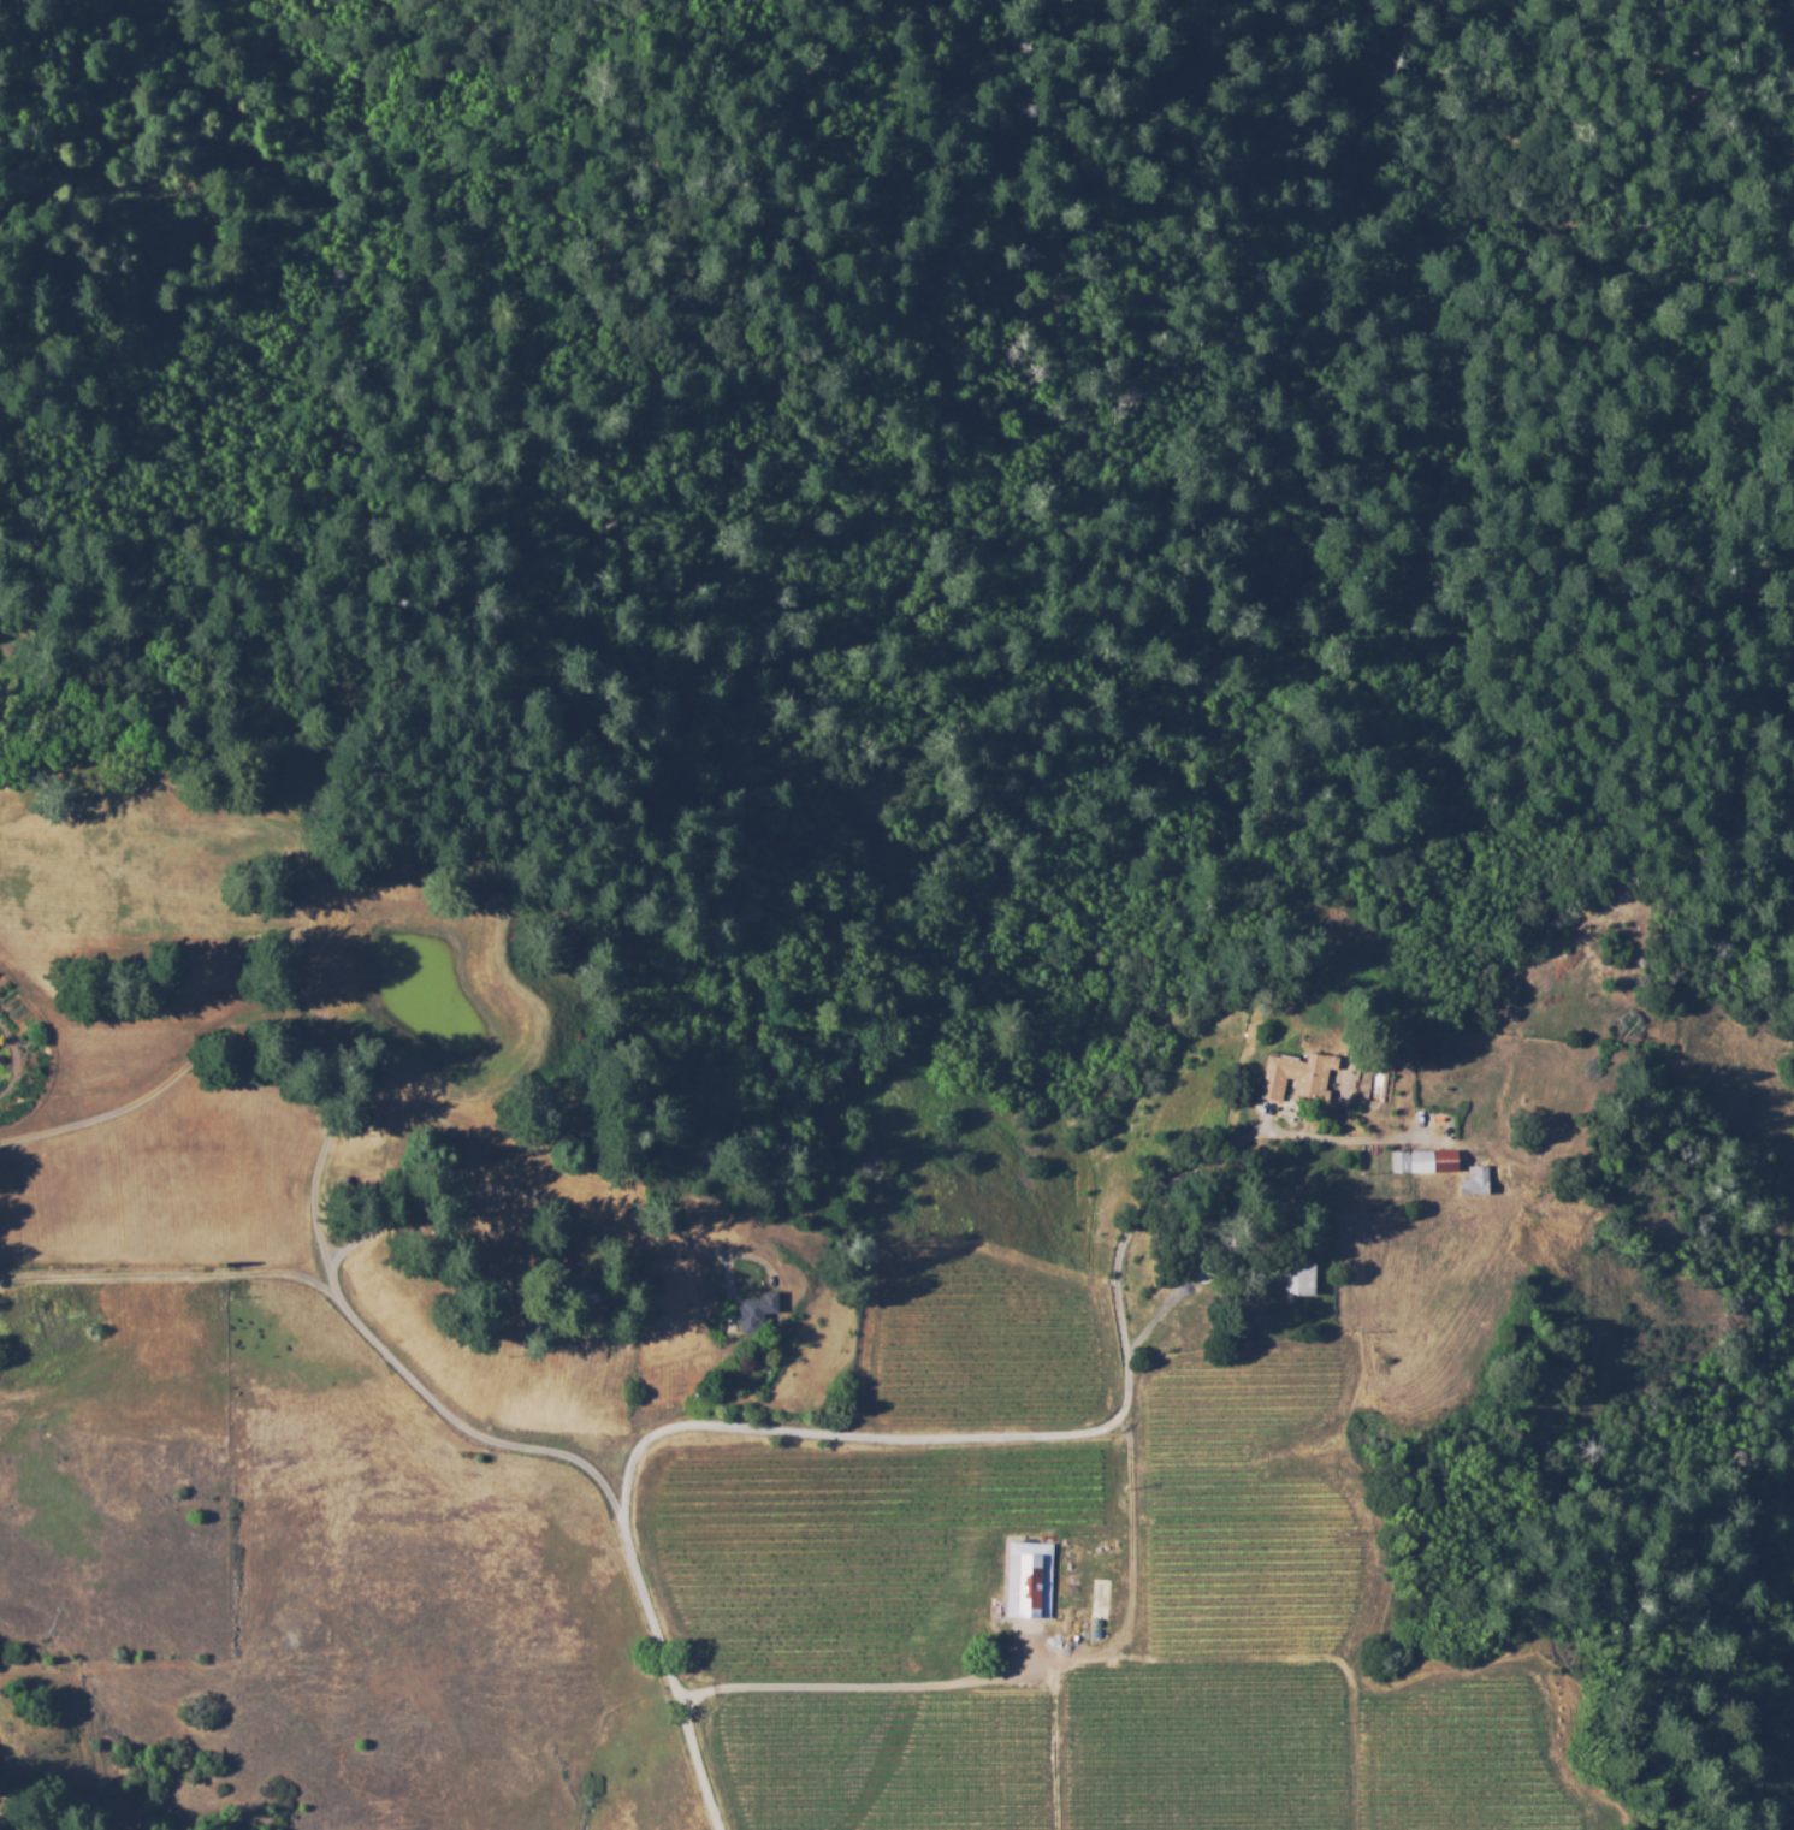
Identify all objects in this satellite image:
building: (1296, 1077)
building: (1422, 1163)
building: (1474, 1183)
road: (535, 1196)
building: (1197, 1232)
road: (185, 1275)
building: (1298, 1275)
building: (754, 1313)
road: (948, 1440)
road: (533, 1455)
building: (1028, 1581)
building: (995, 1609)
building: (1100, 1612)
road: (877, 1687)

